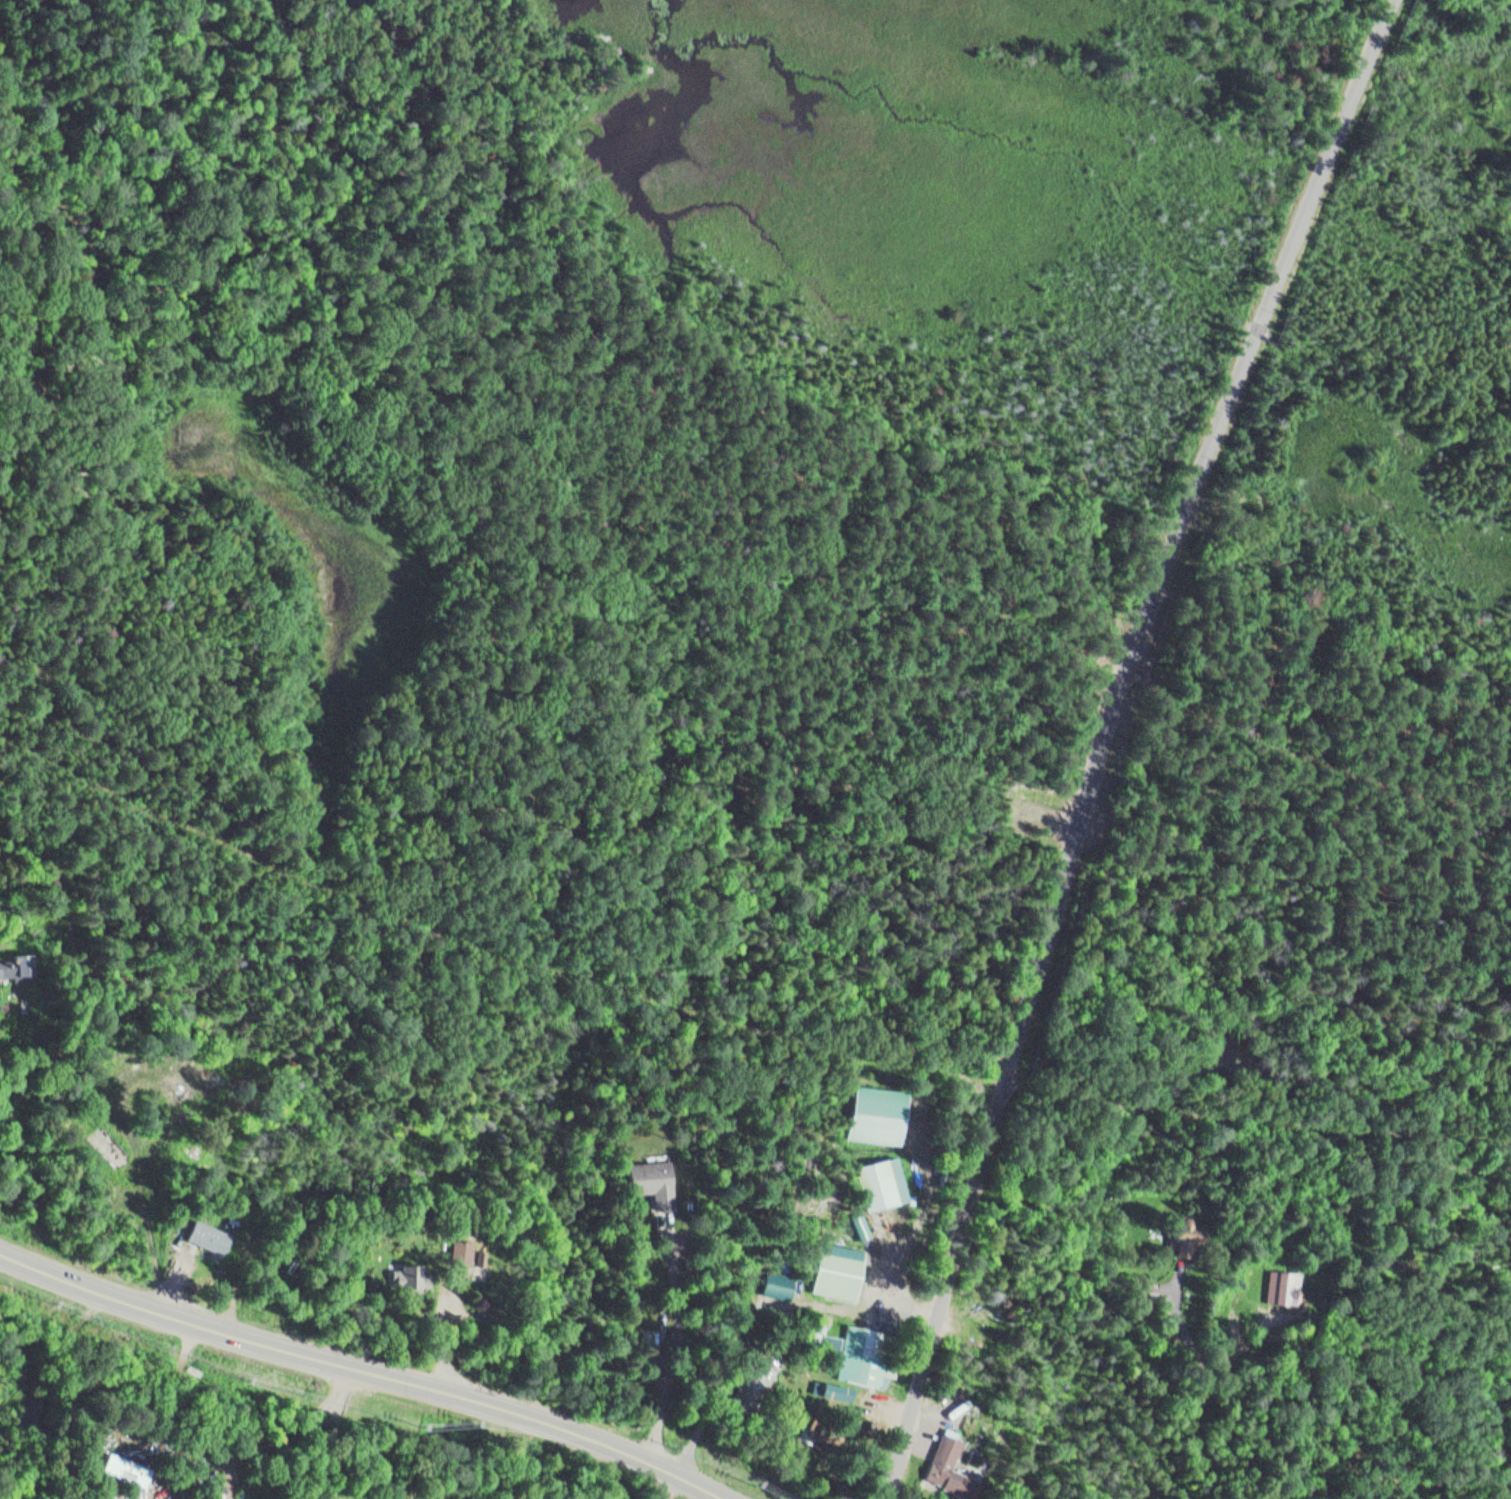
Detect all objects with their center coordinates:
road: (1109, 740)
building: (18, 967)
building: (878, 1115)
building: (654, 1177)
building: (883, 1184)
building: (208, 1236)
building: (1192, 1237)
building: (483, 1255)
building: (408, 1269)
building: (839, 1272)
building: (778, 1285)
building: (1287, 1288)
building: (648, 1312)
building: (827, 1348)
building: (868, 1356)
road: (372, 1371)
building: (754, 1385)
building: (128, 1469)
building: (950, 1470)

